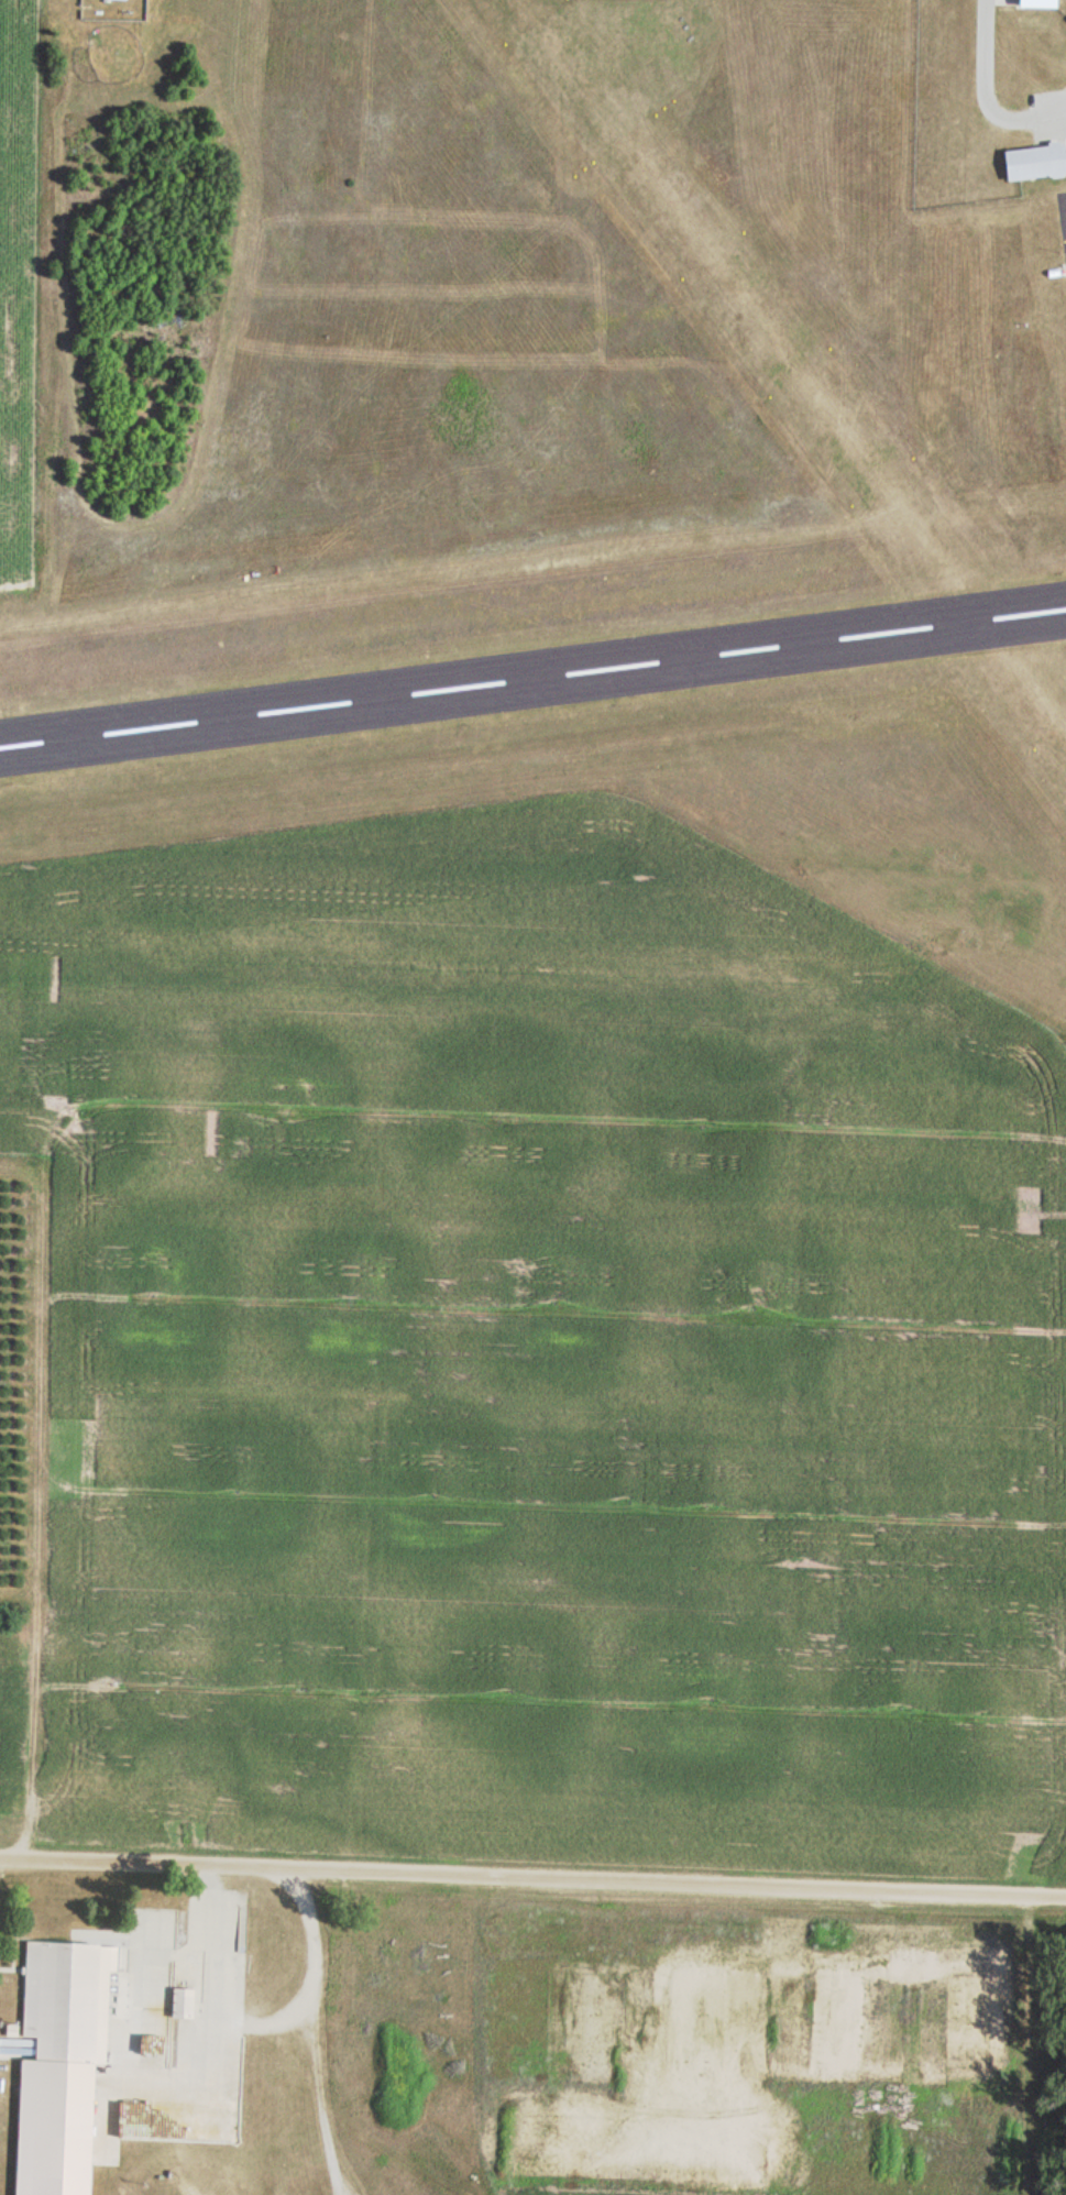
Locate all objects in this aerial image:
airport hangar: (1036, 2)
building: (1036, 2)
road: (983, 96)
airport terminal: (1035, 162)
building: (1035, 162)
airport apron: (1062, 222)
airport runway: (794, 363)
airport: (622, 459)
airport runway: (532, 678)
road: (532, 1861)
building: (180, 2004)
building: (59, 2064)

